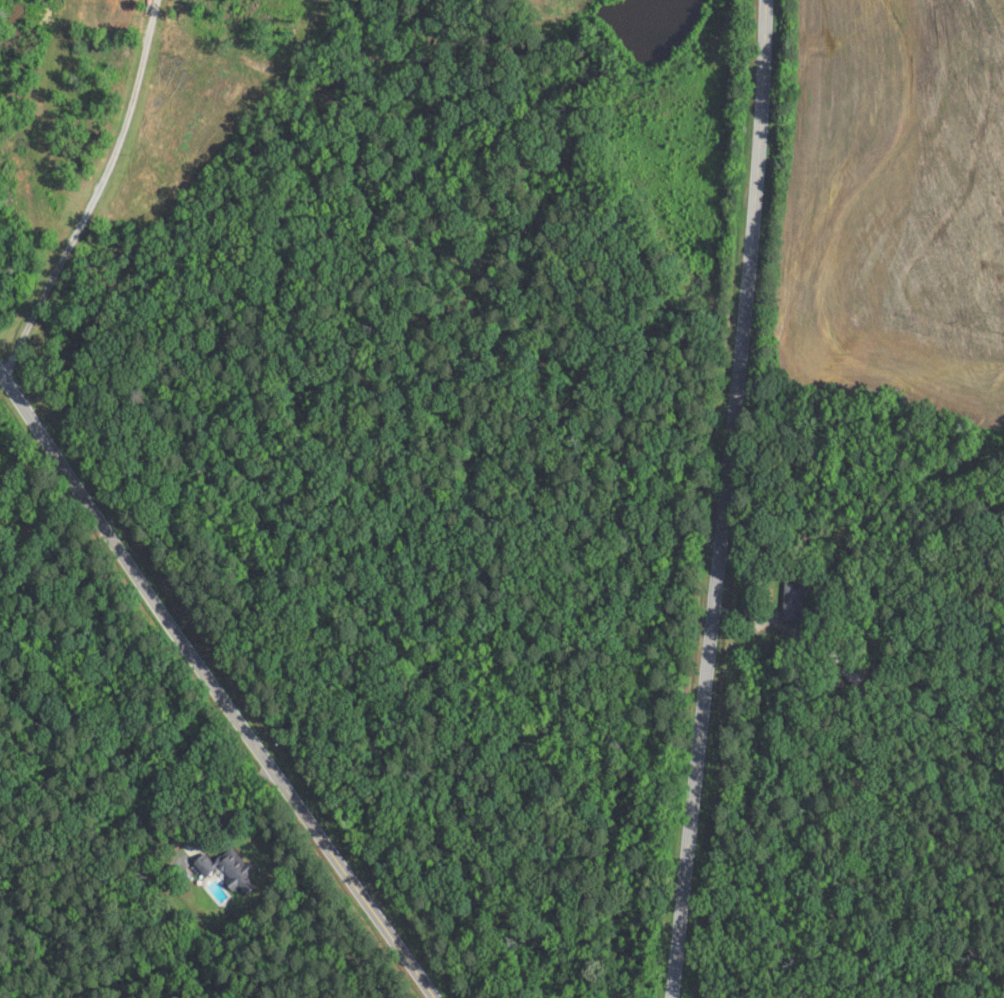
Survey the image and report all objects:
road: (736, 499)
building: (799, 601)
road: (215, 681)
building: (229, 870)

